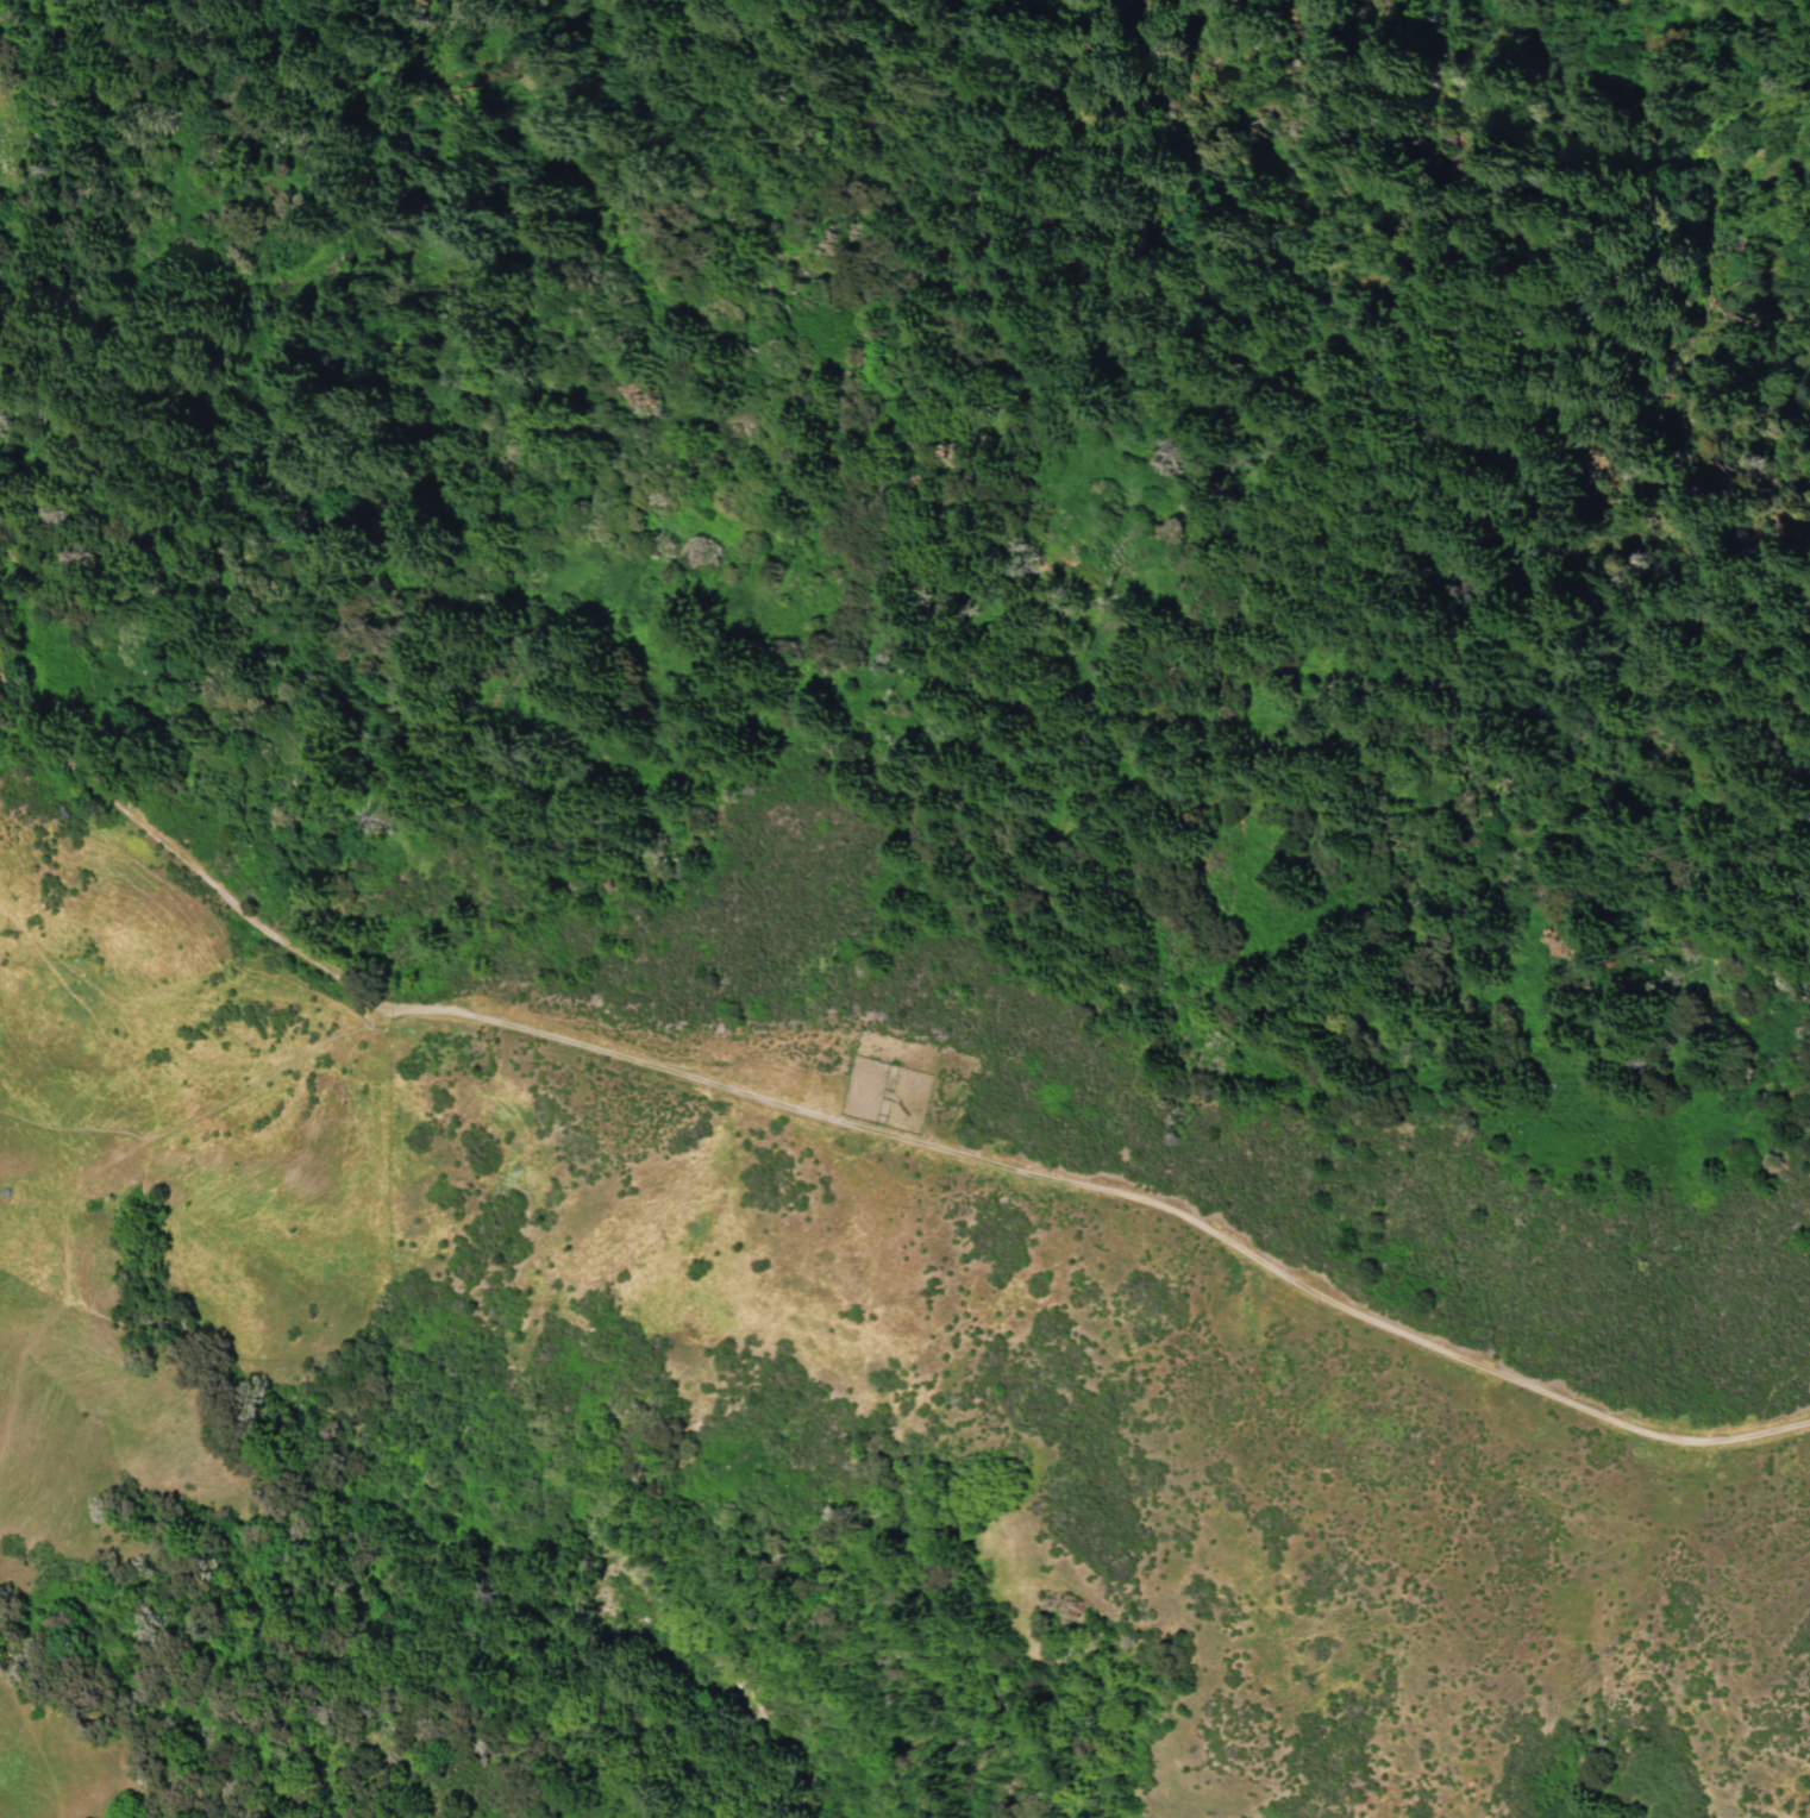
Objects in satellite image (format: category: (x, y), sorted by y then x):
road: (180, 860)
road: (397, 1013)
road: (263, 1078)
road: (71, 1128)
road: (111, 1155)
road: (1127, 1195)

